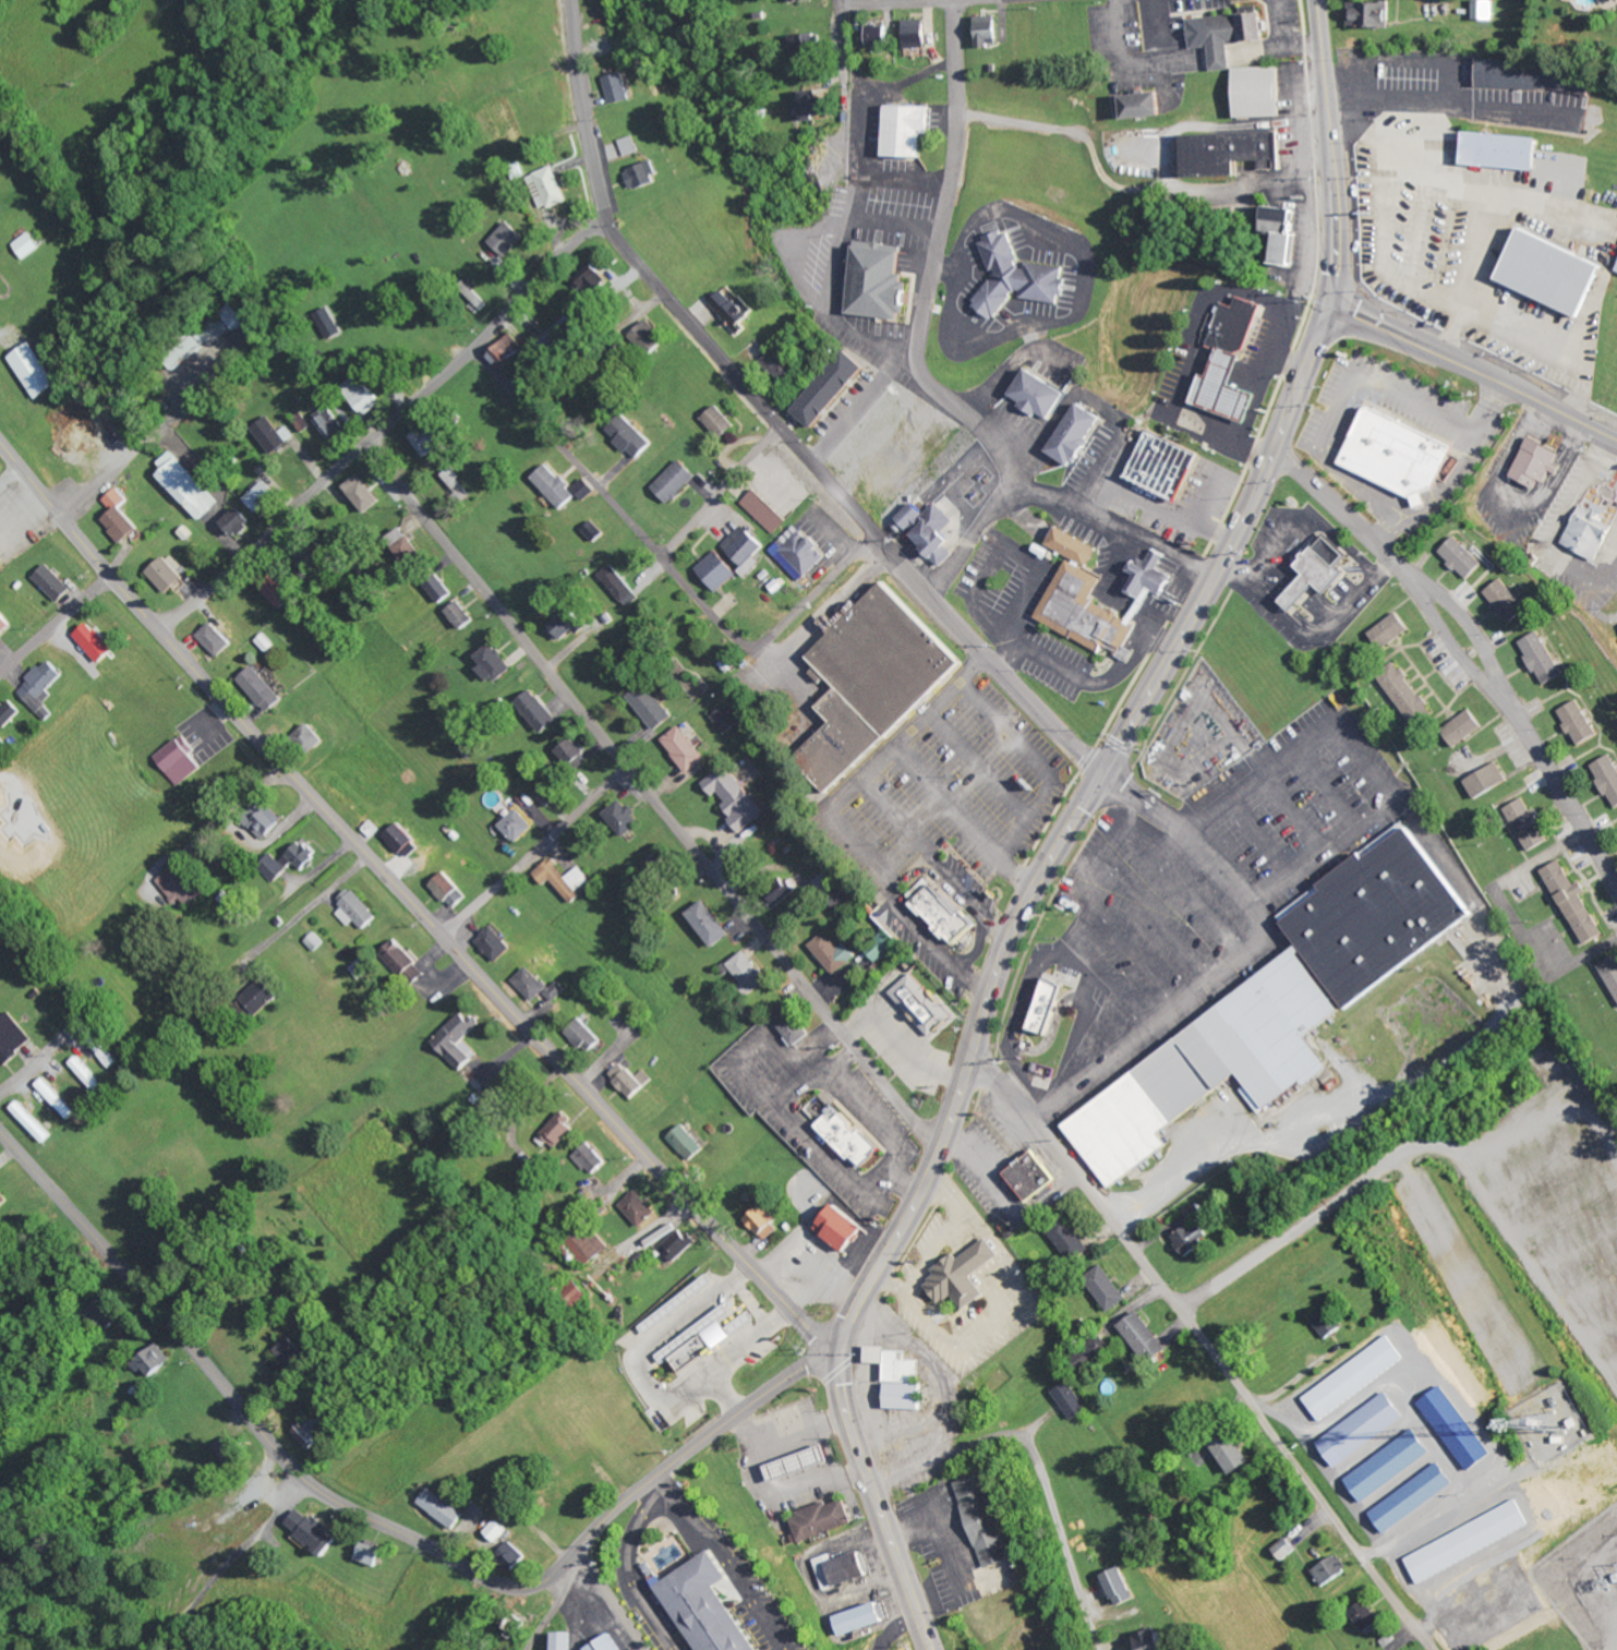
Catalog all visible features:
building: (1616, 0)
building: (801, 1)
road: (902, 2)
building: (1486, 10)
building: (1373, 16)
building: (988, 31)
building: (878, 34)
building: (918, 34)
building: (805, 44)
building: (1224, 57)
building: (1536, 79)
building: (623, 89)
building: (813, 106)
road: (860, 107)
building: (1148, 107)
building: (910, 131)
building: (631, 146)
building: (1506, 149)
road: (1330, 152)
building: (1231, 153)
building: (647, 177)
building: (553, 188)
building: (511, 237)
building: (31, 244)
building: (1556, 270)
building: (1022, 276)
building: (884, 282)
building: (596, 284)
building: (480, 300)
traffic signals: (1329, 303)
building: (735, 308)
building: (226, 322)
building: (331, 322)
building: (560, 335)
building: (510, 353)
building: (1235, 361)
building: (782, 363)
building: (37, 370)
road: (924, 370)
road: (1473, 370)
building: (836, 387)
building: (1043, 393)
building: (364, 394)
road: (774, 419)
building: (303, 421)
building: (722, 421)
building: (330, 422)
road: (386, 424)
building: (1081, 433)
building: (275, 435)
building: (632, 435)
building: (431, 441)
building: (1403, 453)
building: (1540, 462)
building: (1168, 465)
road: (11, 478)
building: (678, 480)
building: (457, 482)
building: (188, 485)
building: (557, 485)
building: (587, 487)
road: (721, 492)
building: (365, 494)
building: (264, 495)
building: (765, 510)
building: (123, 516)
building: (239, 521)
building: (1591, 526)
building: (936, 529)
building: (595, 530)
building: (408, 545)
building: (747, 545)
building: (1076, 545)
building: (805, 555)
building: (1464, 557)
road: (666, 565)
building: (720, 569)
building: (1323, 570)
building: (170, 574)
building: (1151, 576)
building: (56, 582)
building: (620, 585)
building: (442, 588)
building: (276, 589)
building: (1509, 600)
building: (1087, 611)
building: (463, 615)
building: (5, 623)
building: (568, 625)
road: (55, 626)
building: (1391, 630)
road: (1475, 638)
building: (219, 639)
building: (100, 642)
building: (265, 642)
building: (1544, 658)
building: (879, 660)
building: (496, 663)
building: (45, 687)
building: (264, 688)
building: (1412, 695)
building: (652, 706)
building: (540, 711)
building: (11, 713)
building: (726, 718)
building: (1581, 722)
building: (1468, 727)
building: (313, 736)
building: (686, 748)
building: (574, 752)
building: (182, 759)
traffic signals: (1102, 774)
building: (1609, 774)
building: (1491, 780)
building: (546, 796)
road: (650, 798)
building: (736, 798)
building: (625, 817)
building: (268, 820)
building: (1531, 823)
building: (519, 826)
building: (405, 840)
road: (534, 852)
building: (303, 855)
building: (276, 867)
building: (564, 878)
building: (826, 881)
building: (183, 886)
building: (452, 890)
building: (786, 892)
road: (410, 901)
building: (1578, 902)
building: (358, 910)
building: (949, 914)
building: (711, 924)
building: (318, 941)
building: (498, 942)
building: (882, 947)
building: (834, 952)
building: (408, 962)
road: (1001, 962)
building: (363, 968)
building: (1612, 969)
building: (750, 972)
building: (541, 986)
building: (262, 996)
building: (1287, 1002)
building: (924, 1004)
building: (1052, 1007)
building: (797, 1031)
building: (586, 1036)
building: (13, 1038)
building: (461, 1039)
building: (100, 1047)
road: (33, 1069)
building: (88, 1075)
building: (632, 1080)
building: (57, 1098)
building: (33, 1122)
building: (558, 1131)
building: (844, 1137)
building: (689, 1143)
building: (592, 1158)
building: (1035, 1176)
building: (3, 1200)
building: (642, 1208)
building: (767, 1223)
building: (845, 1229)
building: (1195, 1238)
building: (1072, 1239)
building: (589, 1242)
building: (680, 1245)
building: (967, 1275)
building: (1109, 1288)
building: (575, 1292)
road: (751, 1302)
building: (680, 1304)
building: (106, 1313)
building: (1329, 1323)
building: (1146, 1337)
building: (708, 1339)
traffic signals: (837, 1347)
road: (1209, 1348)
building: (1096, 1351)
building: (157, 1360)
building: (1356, 1377)
building: (905, 1378)
road: (644, 1385)
road: (722, 1393)
building: (1073, 1400)
road: (248, 1414)
building: (1364, 1429)
building: (1459, 1429)
building: (230, 1450)
building: (1236, 1454)
building: (792, 1462)
building: (1391, 1465)
road: (1039, 1466)
road: (655, 1474)
road: (663, 1479)
building: (1415, 1497)
building: (443, 1508)
building: (816, 1518)
building: (988, 1521)
building: (311, 1531)
building: (497, 1531)
building: (1471, 1541)
building: (1288, 1547)
building: (369, 1555)
building: (512, 1556)
road: (732, 1562)
road: (629, 1568)
road: (227, 1569)
building: (843, 1570)
building: (1331, 1570)
power substation: (1585, 1580)
building: (1123, 1587)
road: (612, 1598)
building: (708, 1606)
building: (1367, 1616)
building: (865, 1619)
building: (565, 1641)
building: (611, 1643)

